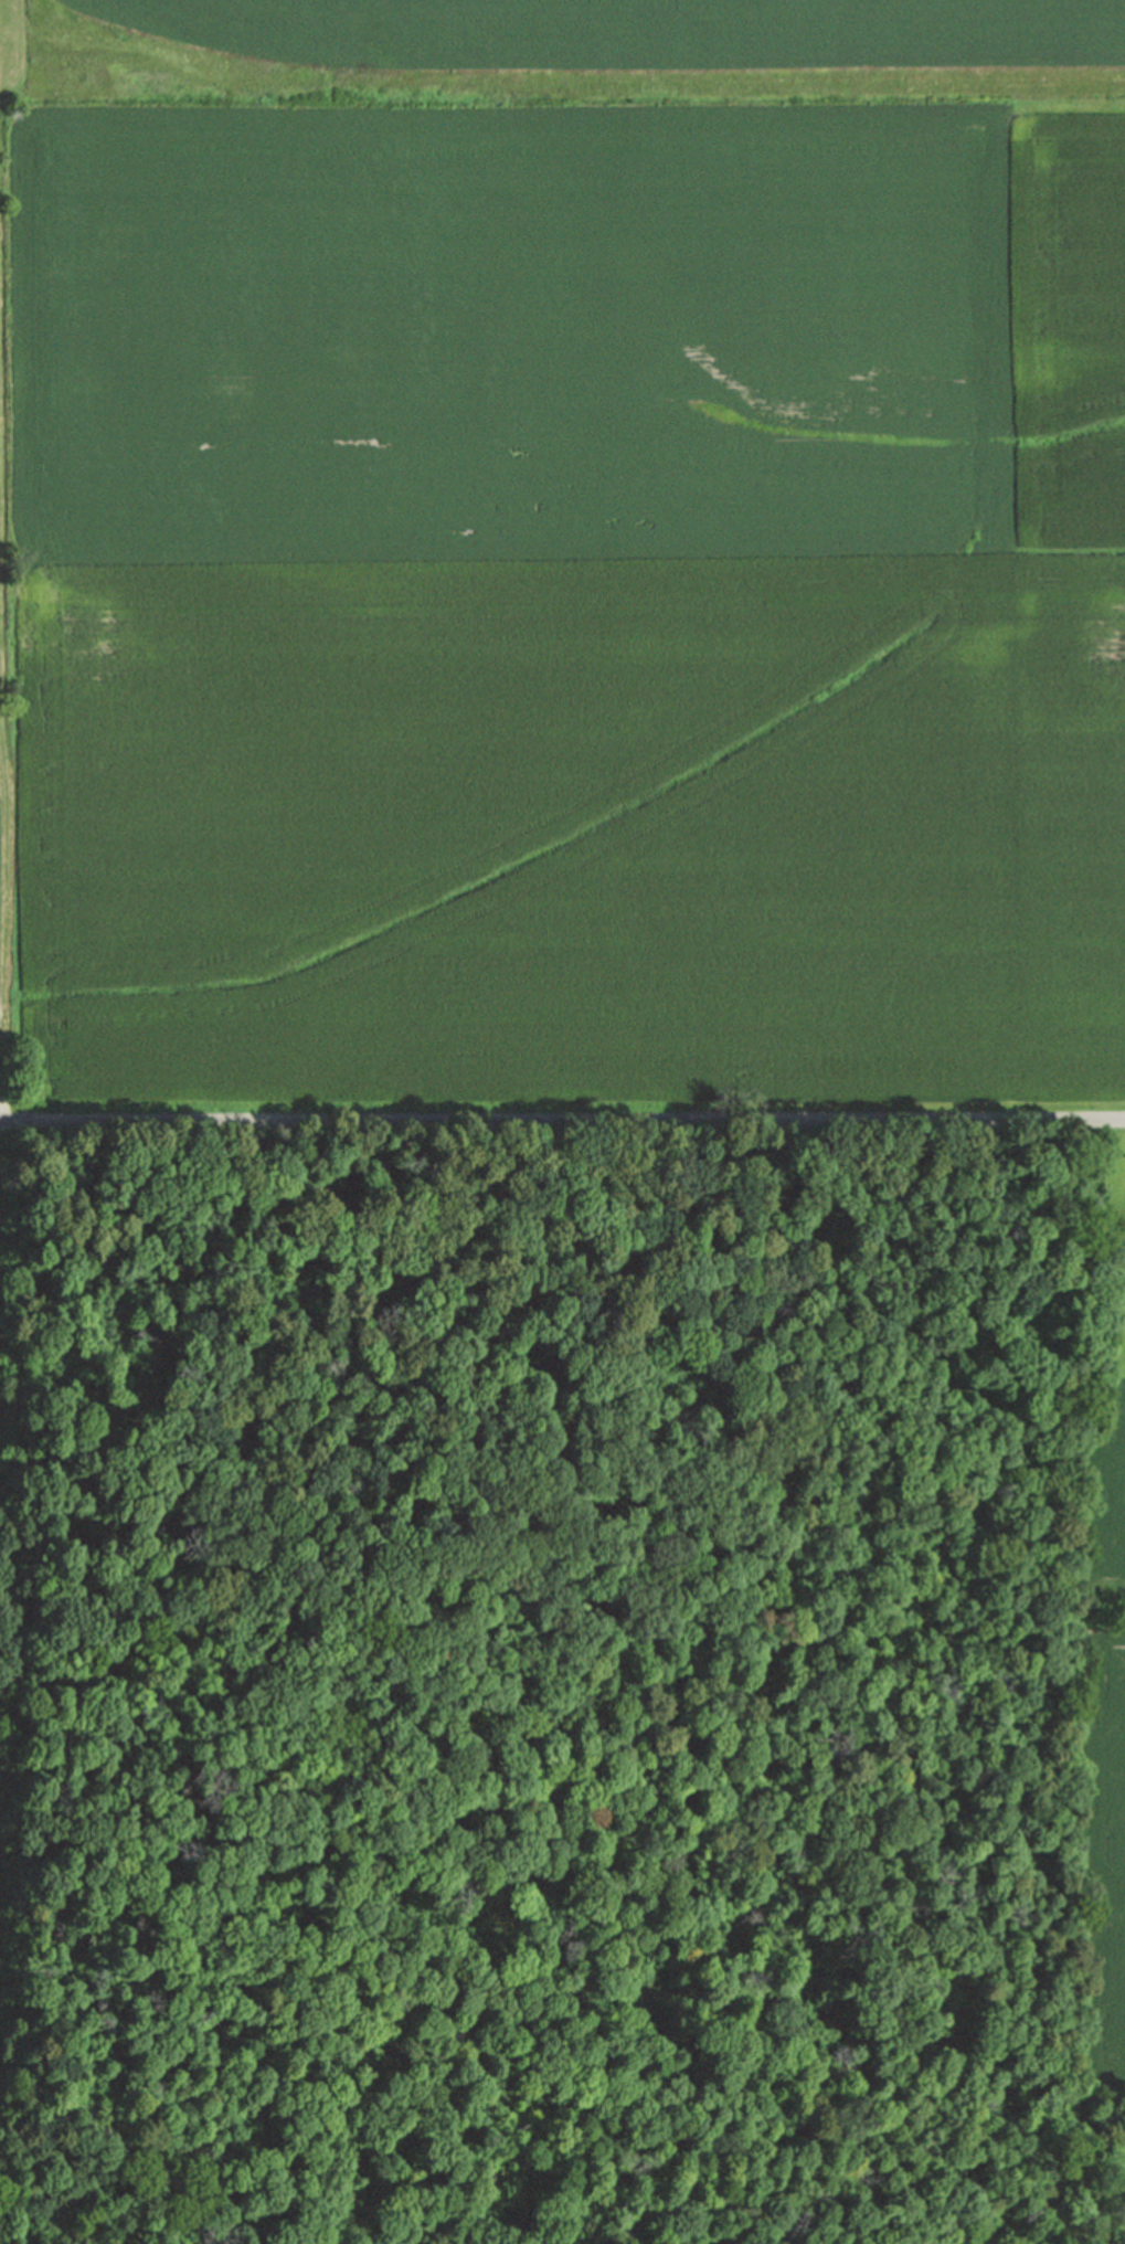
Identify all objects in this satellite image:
road: (2, 843)
road: (562, 1121)

